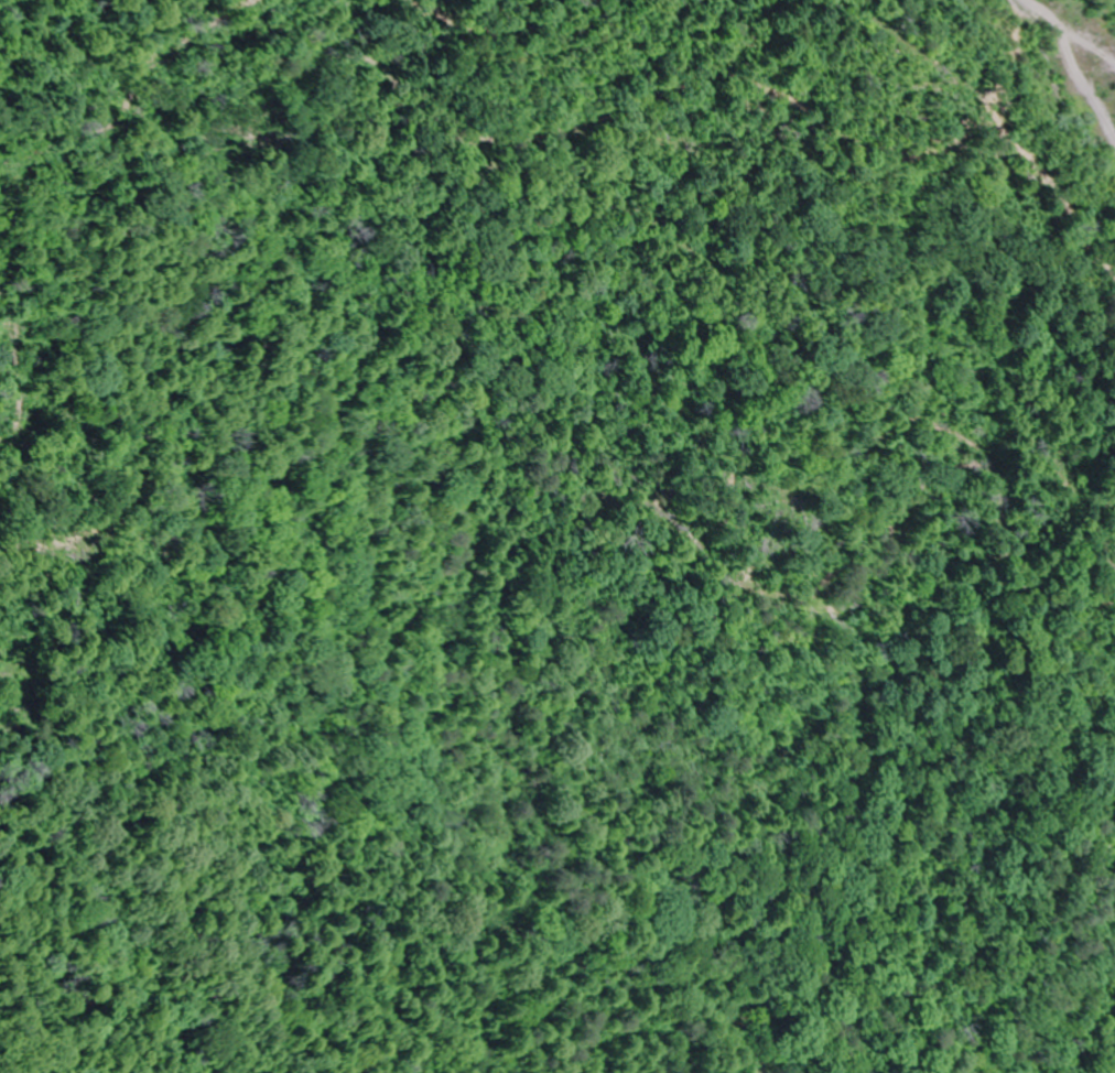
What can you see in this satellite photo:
road: (1072, 37)

